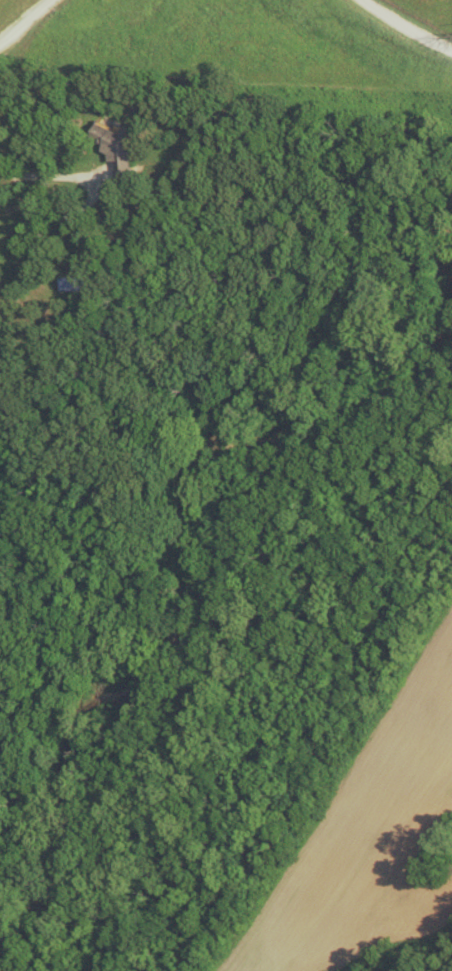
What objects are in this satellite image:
road: (26, 23)
road: (402, 29)
building: (124, 148)
road: (17, 193)

